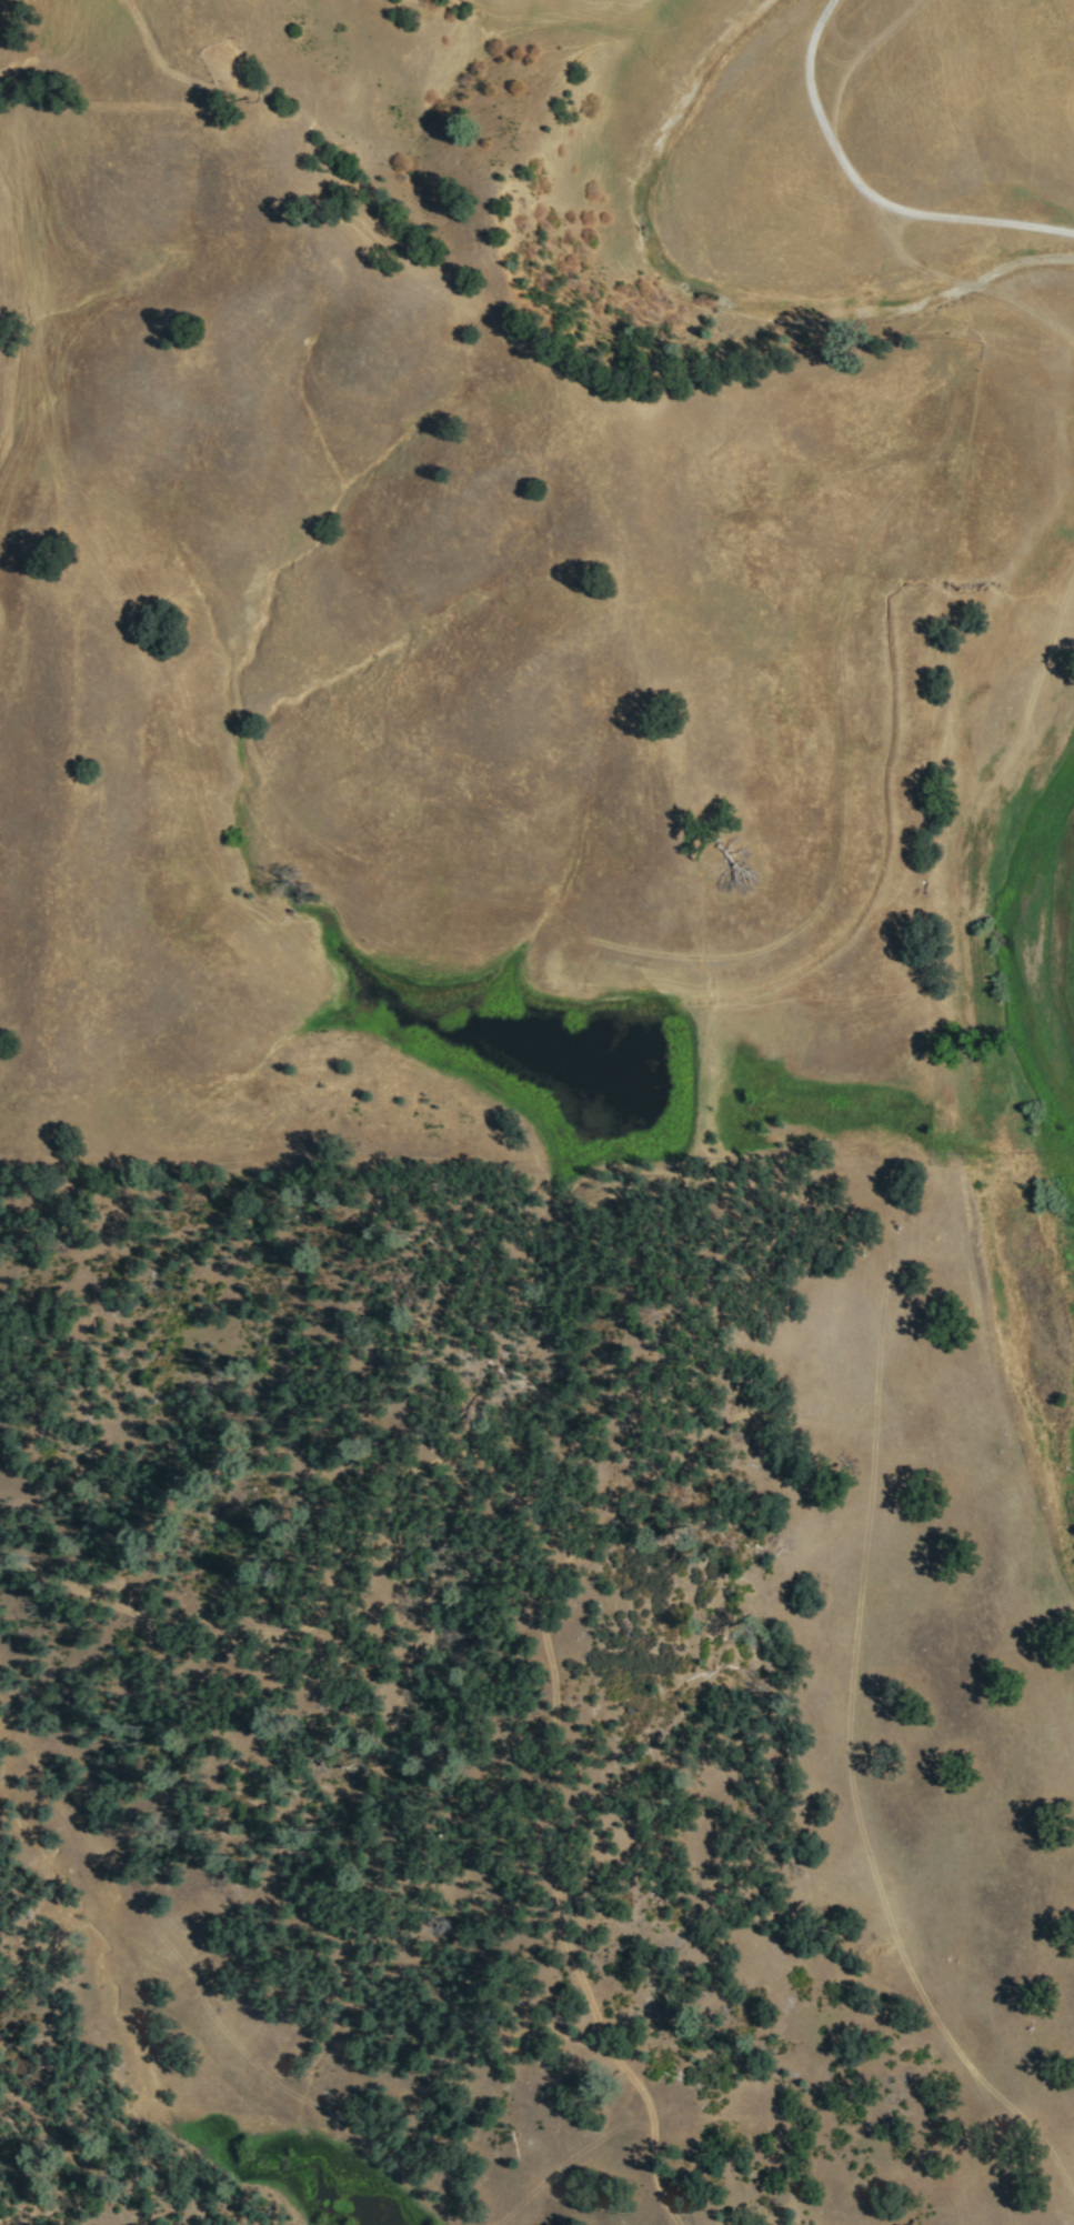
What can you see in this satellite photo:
road: (866, 190)

